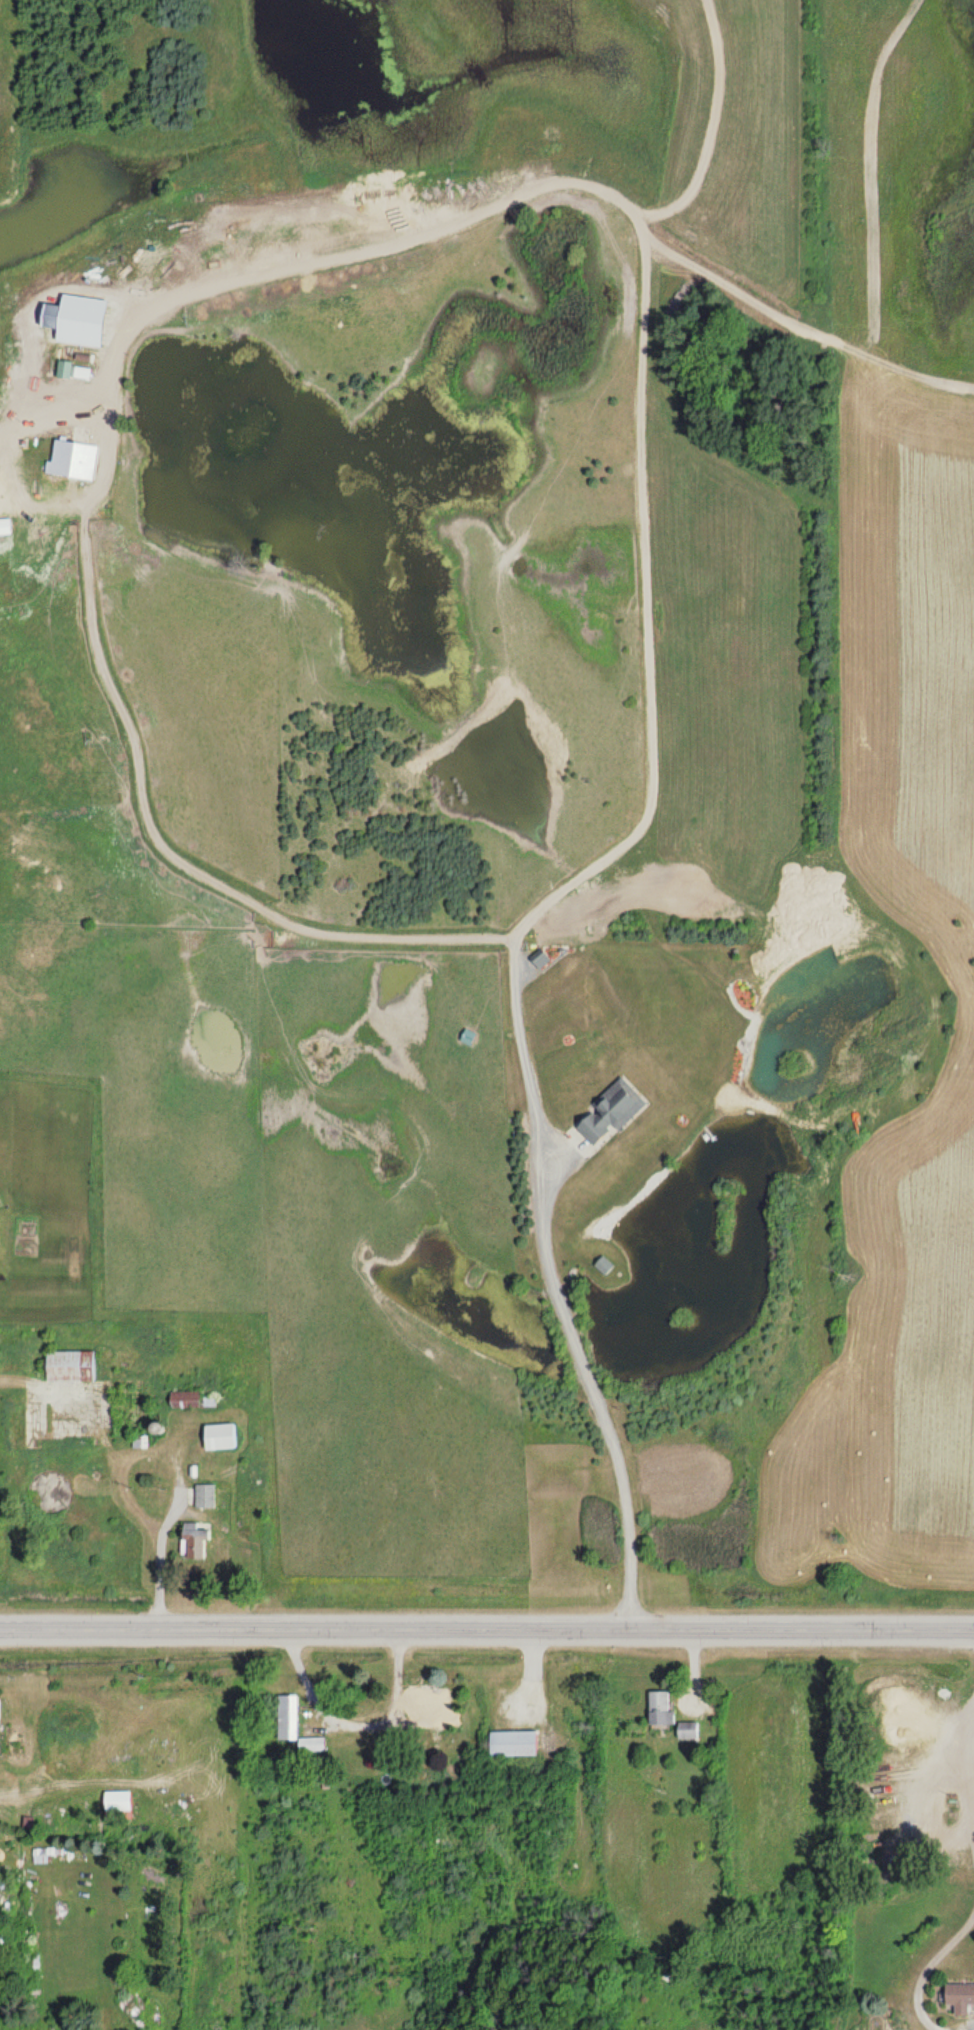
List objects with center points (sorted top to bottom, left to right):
building: (80, 319)
building: (71, 370)
building: (71, 459)
building: (609, 1112)
building: (602, 1266)
building: (69, 1366)
building: (191, 1399)
building: (219, 1436)
building: (204, 1495)
building: (192, 1539)
road: (487, 1625)
building: (431, 1704)
building: (659, 1706)
building: (286, 1716)
building: (686, 1729)
building: (511, 1742)
building: (310, 1744)
building: (116, 1800)
building: (44, 1854)
building: (3, 1880)
building: (959, 1995)

